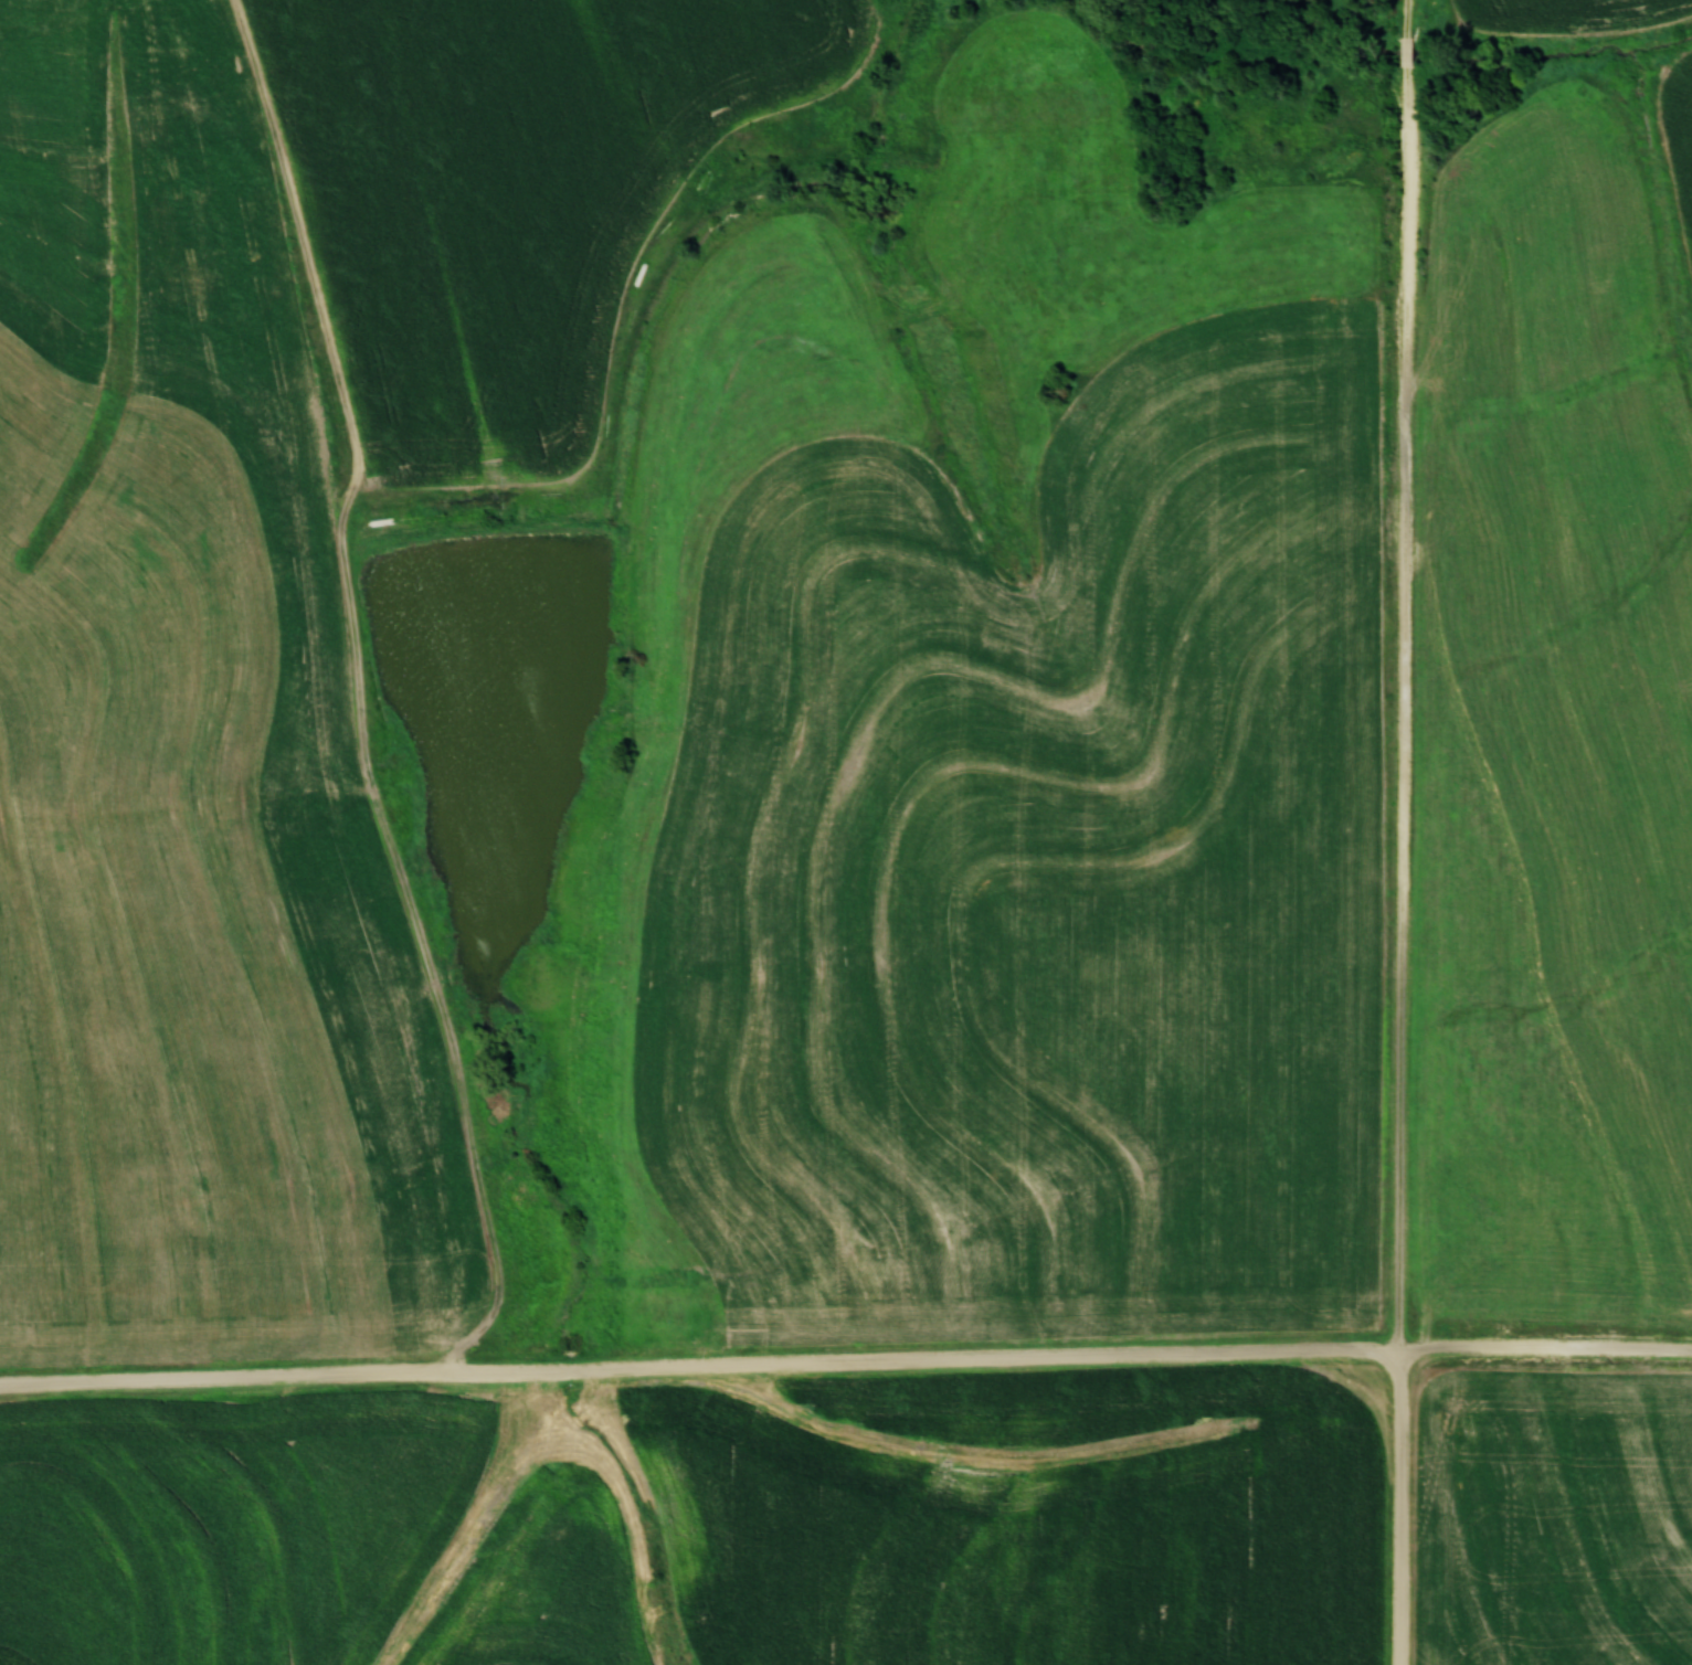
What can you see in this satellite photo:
road: (1407, 831)
road: (845, 1366)

